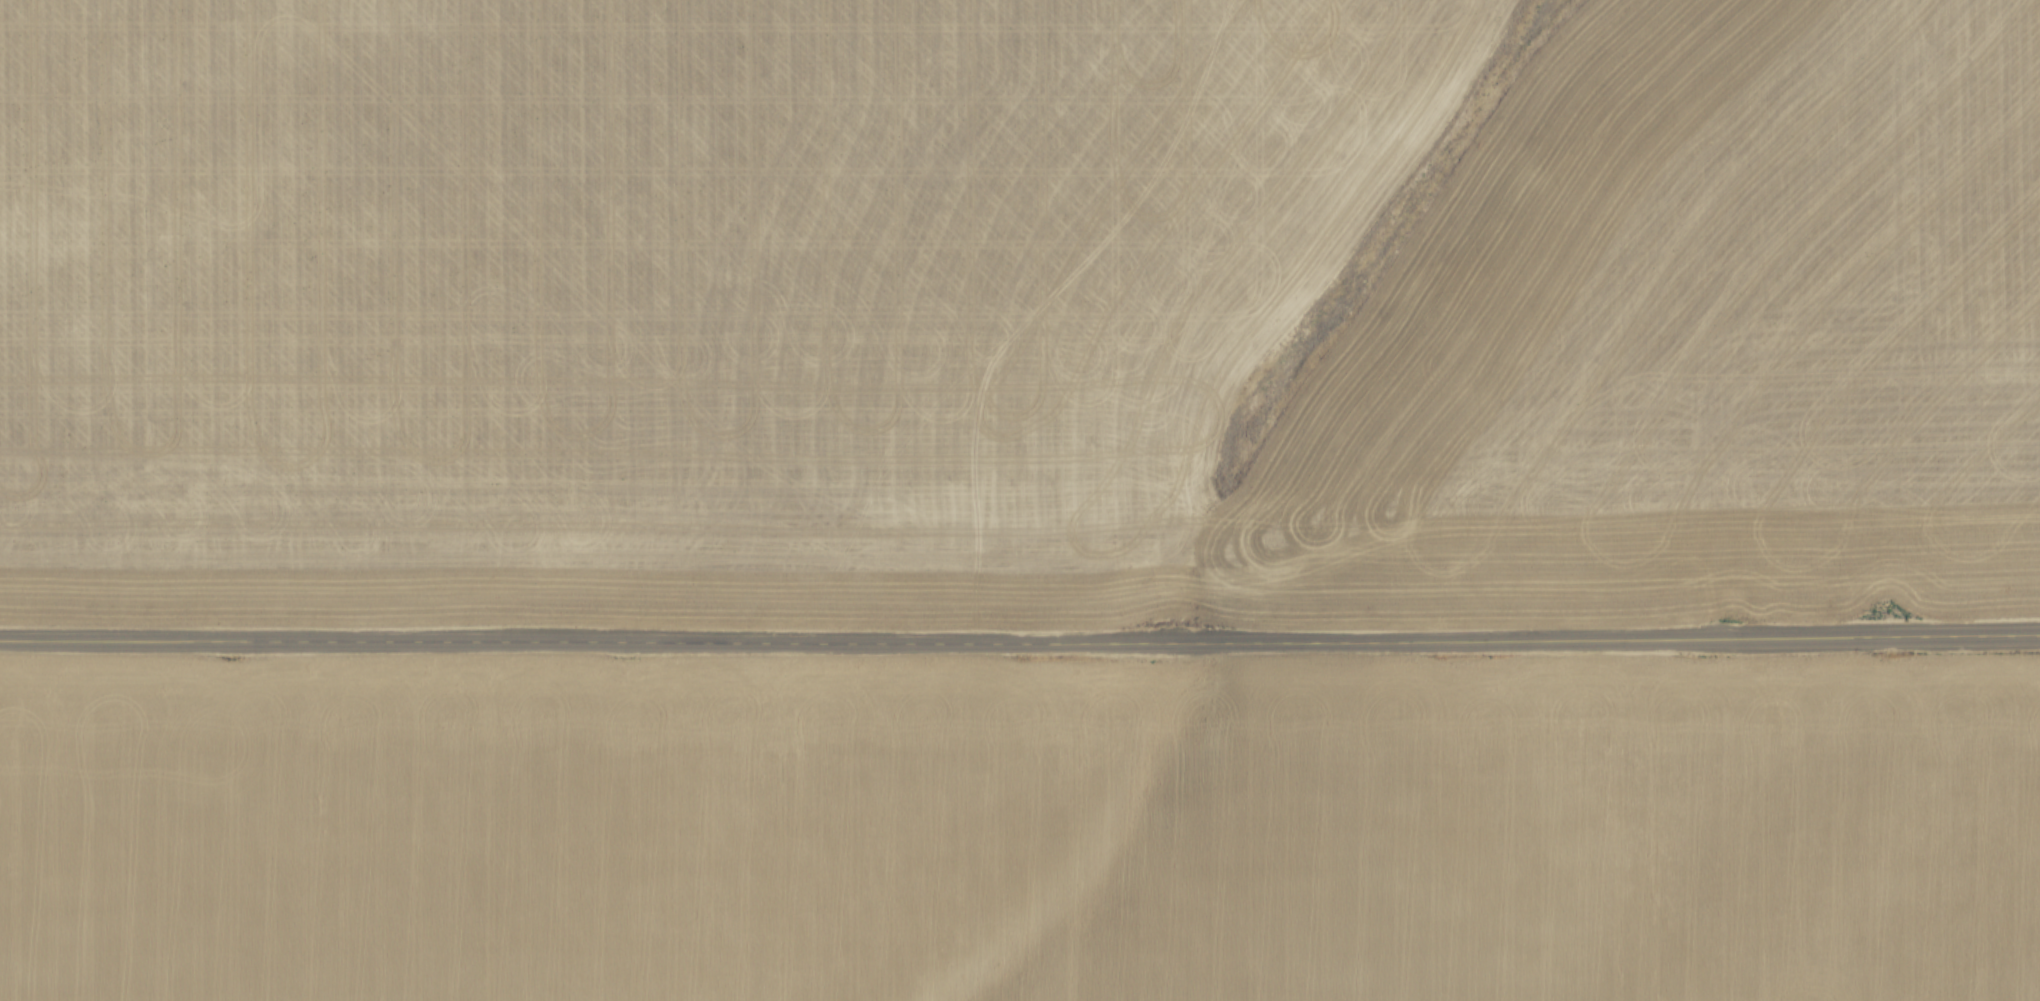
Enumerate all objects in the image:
road: (1020, 641)

